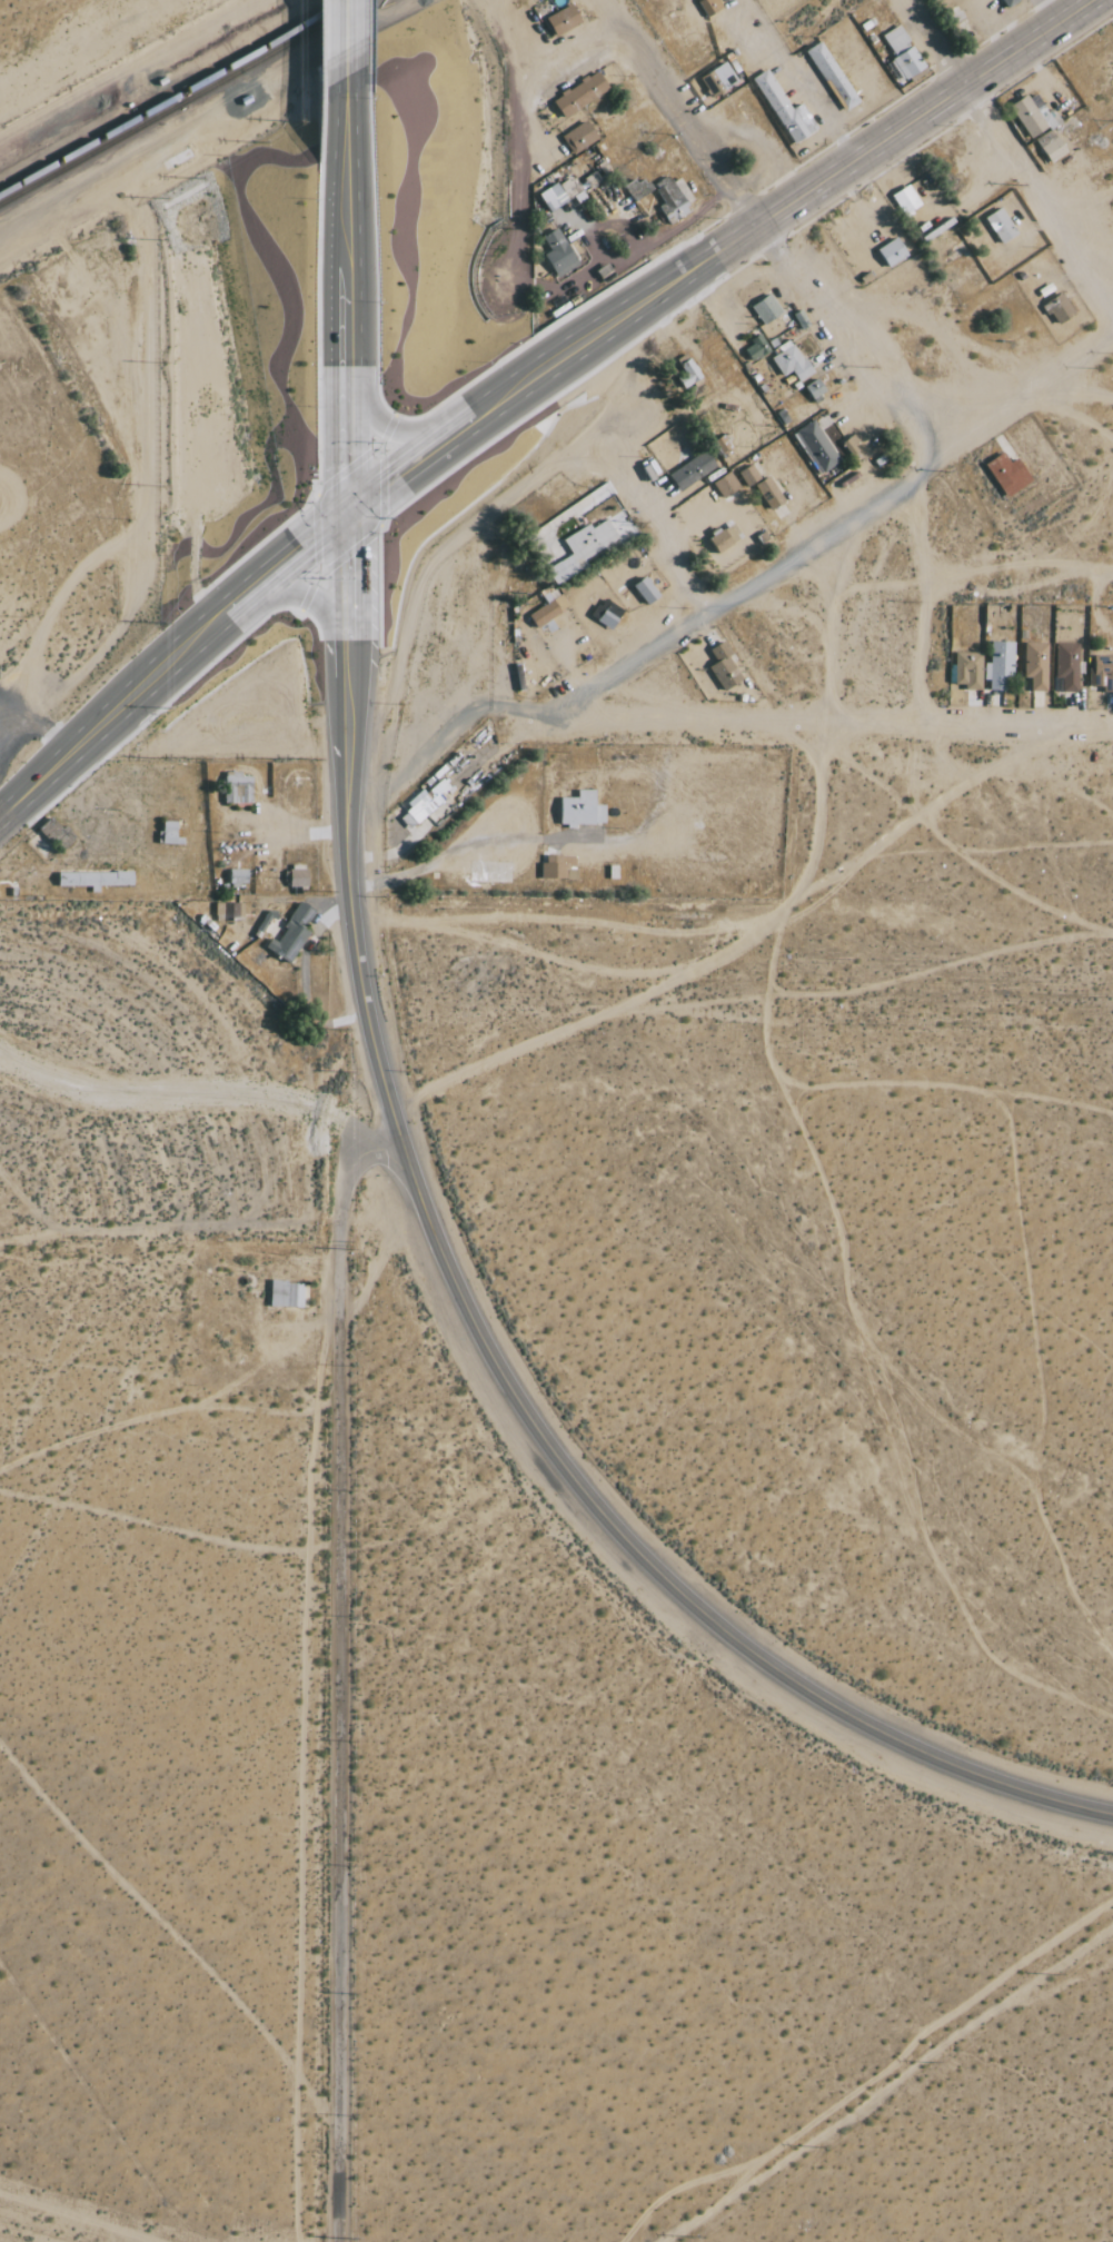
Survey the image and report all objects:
building: (1010, 2)
building: (709, 7)
building: (564, 19)
road: (347, 39)
building: (903, 54)
road: (942, 59)
building: (725, 73)
building: (833, 76)
road: (796, 78)
building: (712, 82)
building: (580, 95)
railway: (173, 96)
railway: (183, 101)
building: (785, 109)
building: (1025, 115)
road: (515, 130)
road: (689, 132)
building: (580, 137)
building: (1045, 147)
building: (553, 197)
building: (906, 200)
building: (672, 201)
road: (1049, 217)
building: (1000, 225)
road: (714, 246)
building: (892, 251)
building: (559, 252)
road: (348, 289)
building: (1059, 308)
building: (766, 309)
building: (755, 349)
road: (861, 359)
building: (789, 361)
building: (690, 370)
building: (815, 388)
road: (1026, 396)
building: (816, 447)
building: (693, 470)
building: (1008, 474)
building: (749, 475)
building: (726, 485)
building: (769, 493)
traffic signals: (350, 503)
road: (650, 522)
building: (725, 538)
building: (585, 547)
road: (744, 588)
building: (646, 591)
building: (545, 613)
building: (607, 614)
road: (173, 661)
building: (1000, 665)
building: (1036, 665)
building: (1067, 666)
building: (724, 667)
building: (968, 671)
building: (1103, 672)
road: (828, 724)
road: (440, 740)
building: (238, 788)
building: (421, 805)
building: (582, 810)
road: (673, 814)
building: (558, 867)
building: (238, 877)
building: (296, 879)
building: (79, 880)
building: (106, 880)
building: (227, 911)
building: (291, 933)
building: (286, 1294)
road: (470, 1320)
road: (340, 1677)

